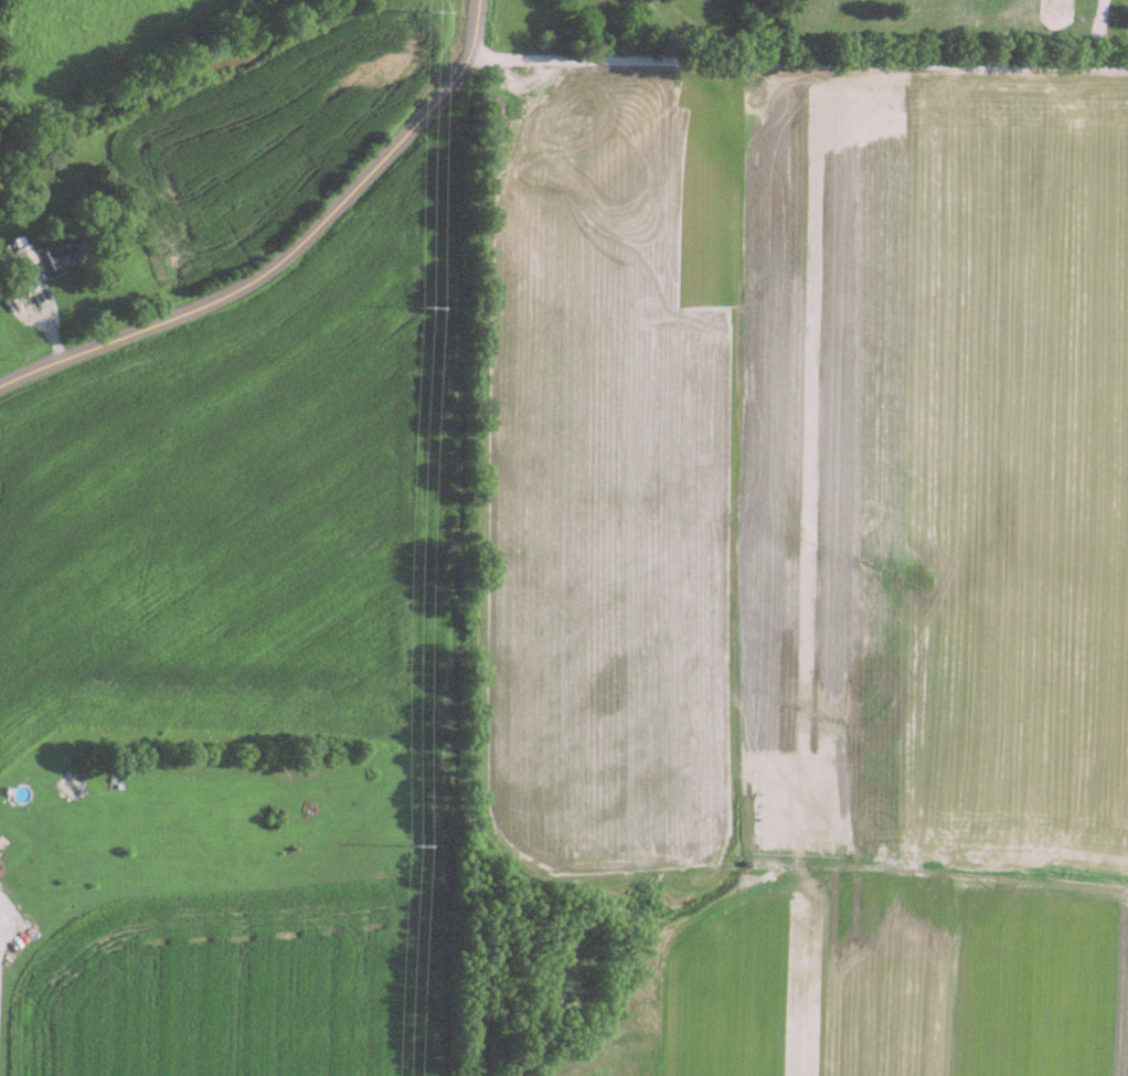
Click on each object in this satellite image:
road: (1095, 32)
road: (804, 56)
road: (291, 247)
building: (23, 253)
building: (60, 253)

